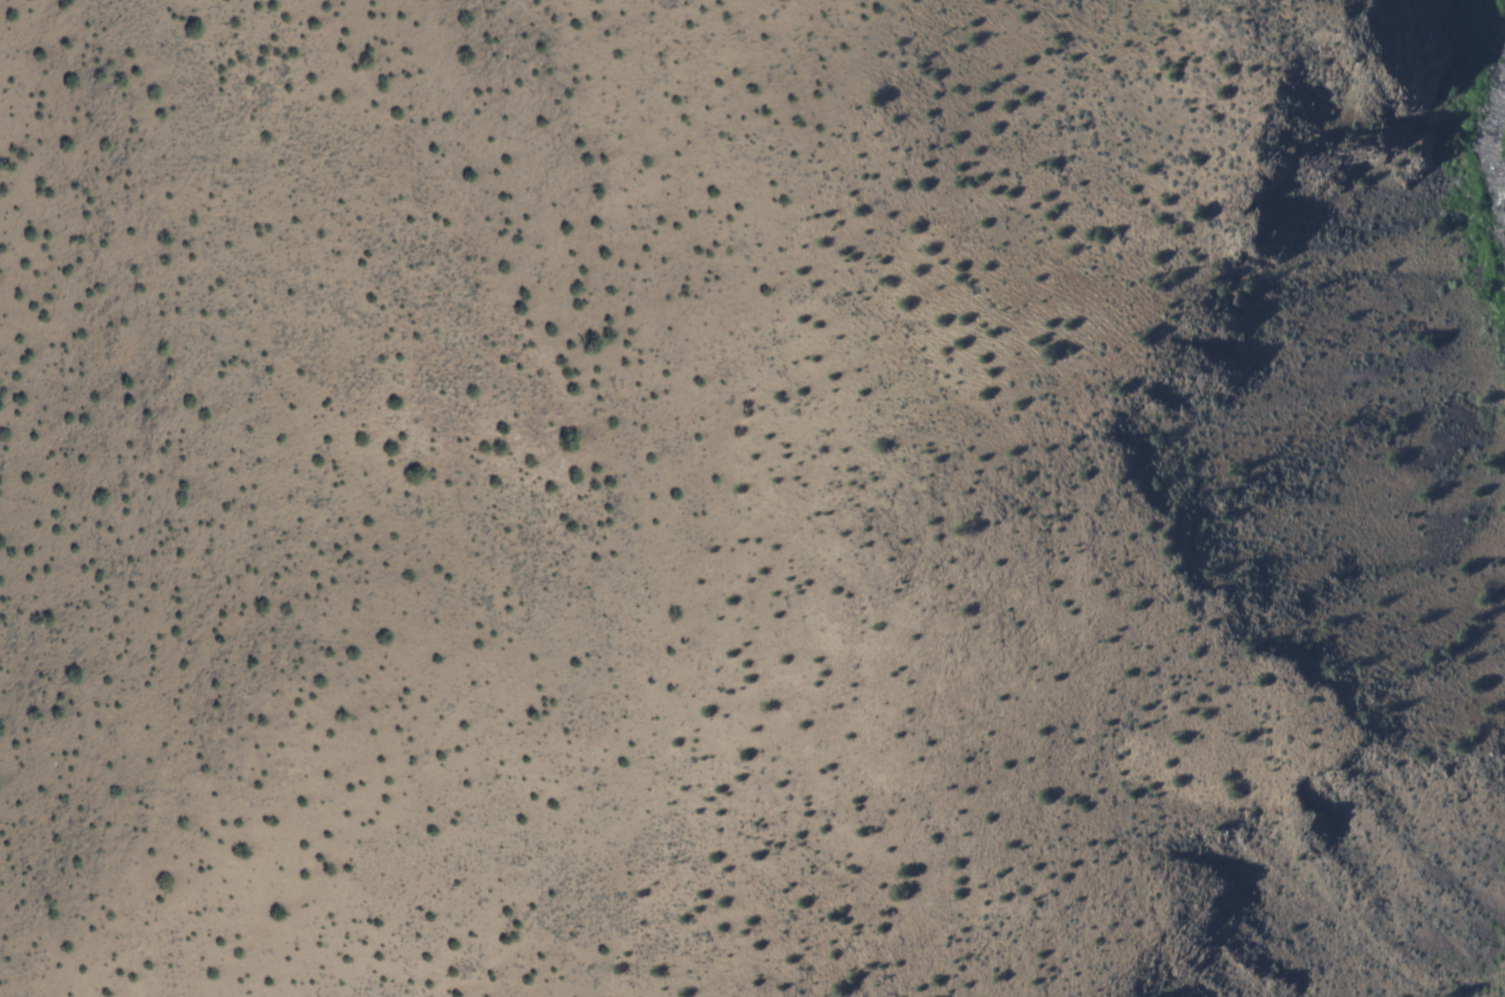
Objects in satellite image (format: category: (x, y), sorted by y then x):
river: (1485, 147)

